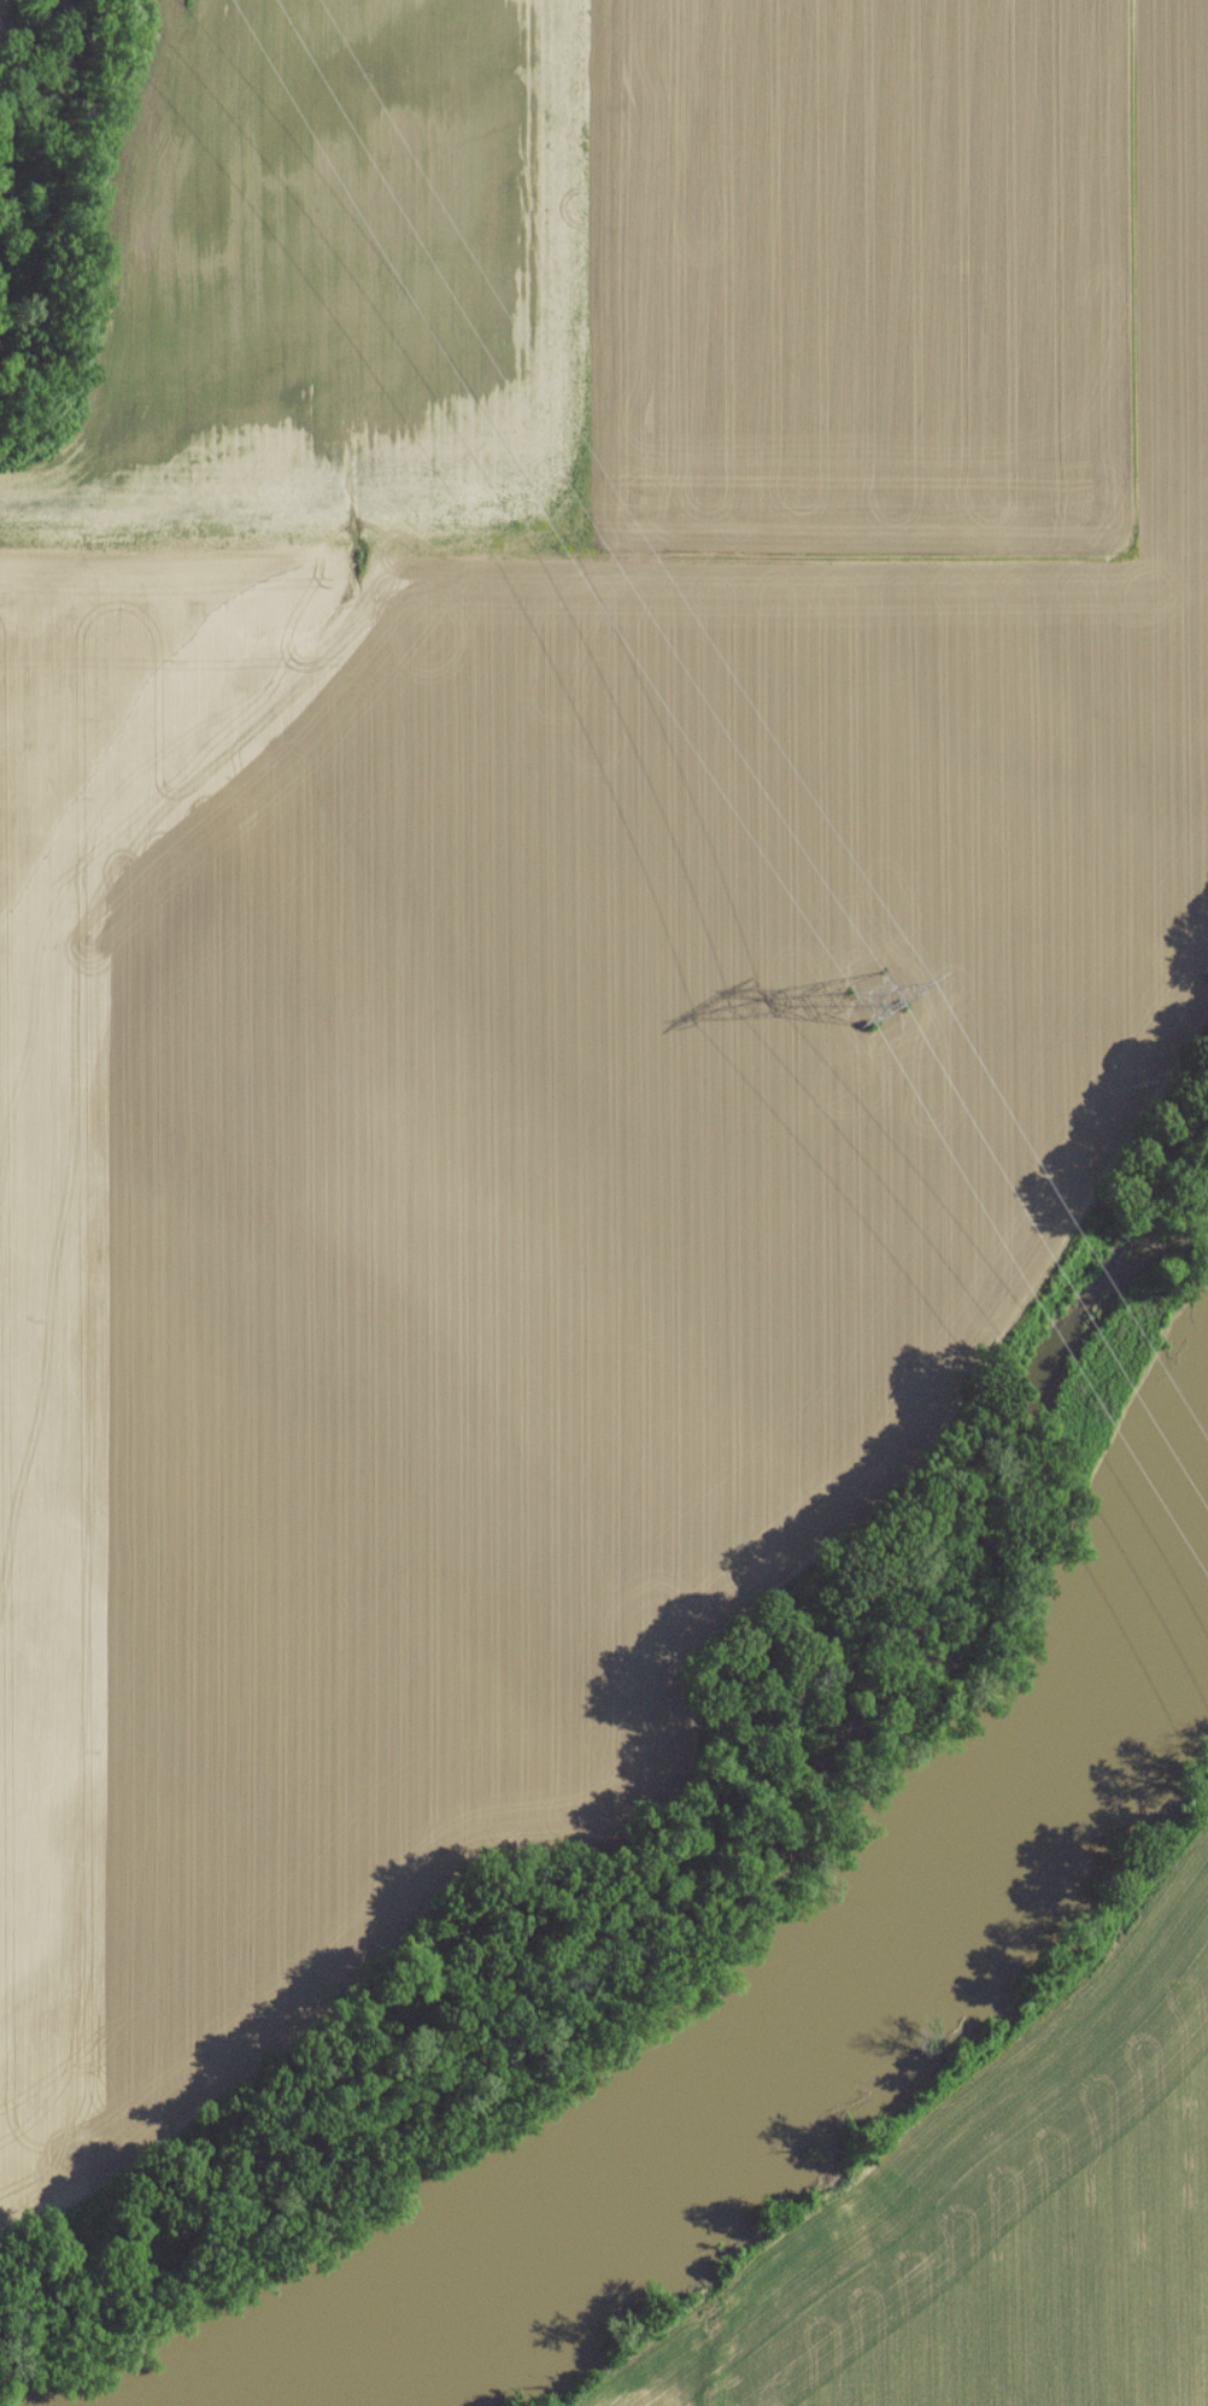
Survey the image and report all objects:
road: (1121, 558)
power tower: (876, 1001)
river: (786, 2007)

